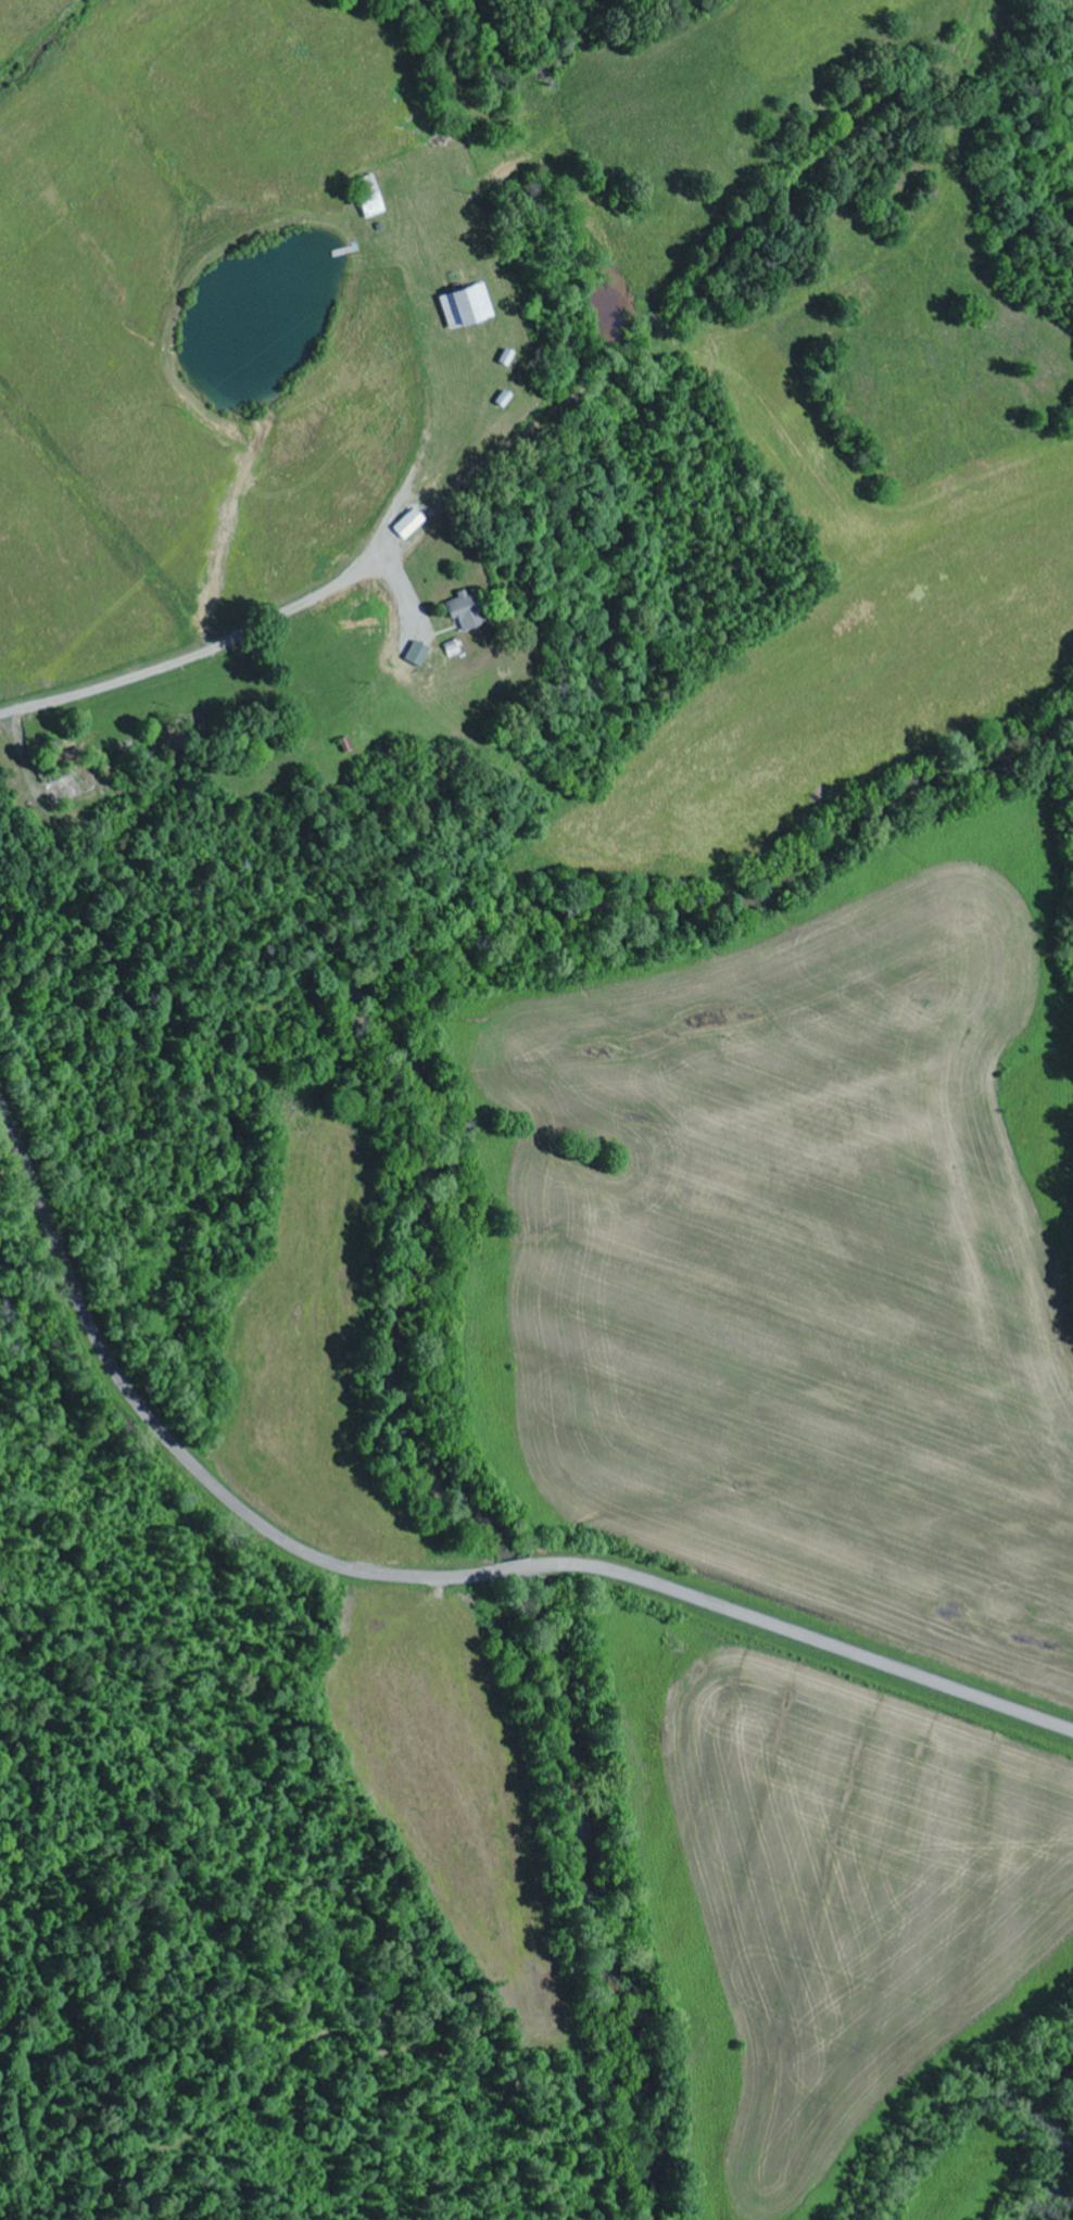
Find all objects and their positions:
building: (468, 306)
road: (539, 430)
building: (411, 525)
building: (466, 610)
building: (418, 654)
river: (413, 1241)
road: (171, 1438)
road: (516, 1569)
road: (807, 1638)

